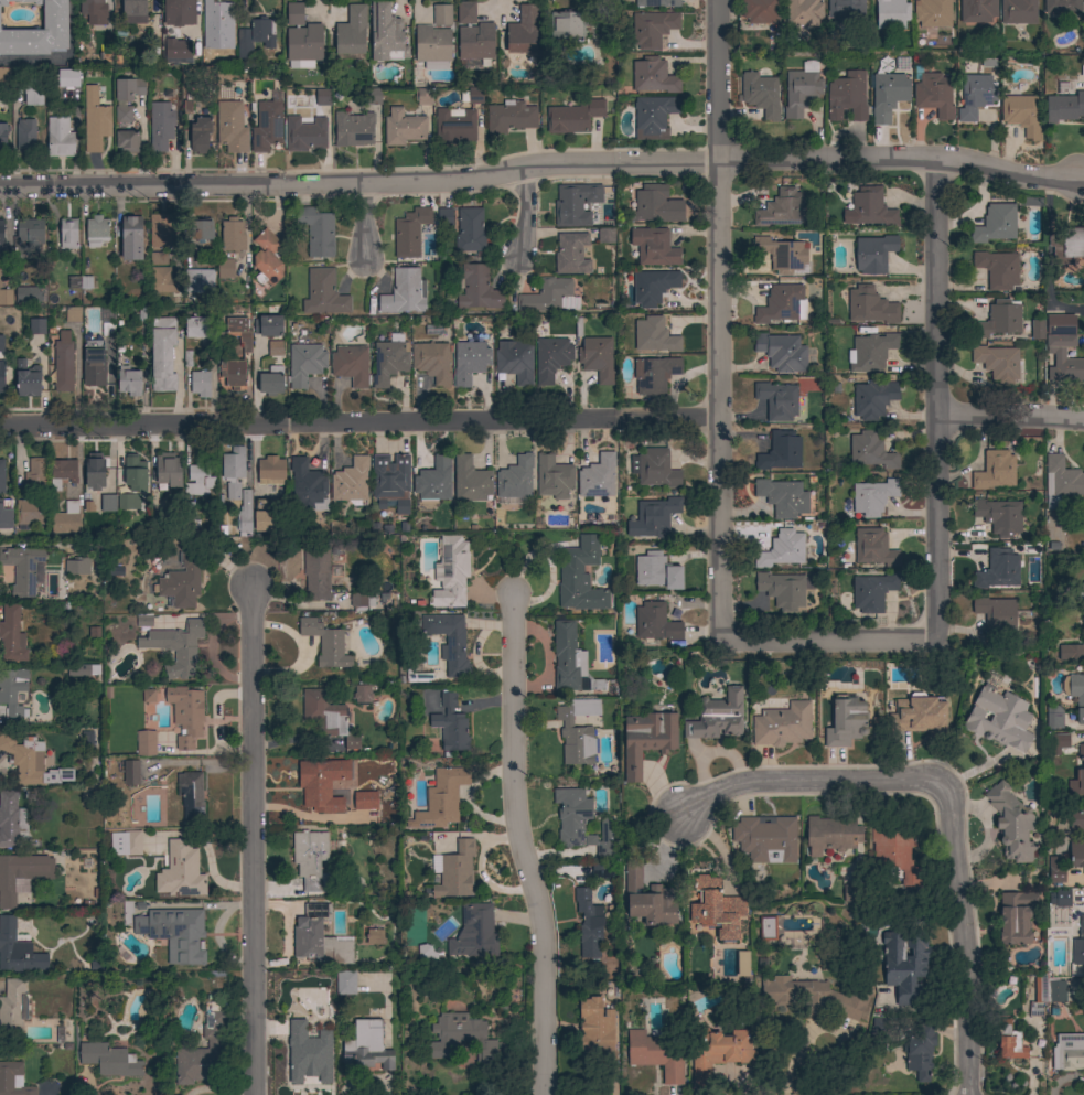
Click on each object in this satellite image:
building: (656, 3)
building: (90, 6)
building: (1061, 6)
building: (133, 10)
building: (760, 11)
building: (846, 11)
building: (977, 11)
building: (1018, 11)
building: (179, 12)
building: (803, 12)
building: (891, 13)
building: (932, 13)
building: (441, 14)
building: (210, 17)
building: (567, 24)
building: (652, 29)
building: (37, 31)
building: (351, 31)
building: (523, 31)
building: (604, 31)
building: (386, 34)
building: (473, 34)
building: (255, 36)
building: (301, 37)
building: (432, 46)
building: (221, 49)
building: (179, 50)
building: (1082, 68)
building: (4, 76)
building: (653, 76)
building: (67, 78)
building: (128, 88)
building: (802, 89)
building: (933, 93)
building: (33, 94)
building: (760, 94)
building: (888, 94)
building: (474, 96)
building: (975, 96)
building: (323, 97)
building: (373, 97)
building: (423, 97)
building: (847, 97)
building: (1064, 107)
building: (122, 114)
building: (1021, 115)
building: (509, 117)
building: (573, 117)
building: (653, 117)
building: (95, 120)
building: (160, 126)
building: (267, 126)
building: (454, 126)
building: (232, 127)
building: (404, 127)
building: (353, 129)
building: (304, 135)
building: (3, 136)
building: (25, 136)
building: (200, 136)
building: (60, 137)
building: (127, 141)
road: (541, 164)
building: (1031, 202)
building: (575, 204)
building: (654, 205)
building: (869, 208)
building: (781, 210)
road: (525, 213)
building: (444, 217)
road: (364, 223)
building: (997, 224)
building: (202, 229)
building: (96, 230)
building: (161, 230)
building: (316, 230)
building: (470, 230)
building: (409, 232)
building: (68, 233)
building: (1, 235)
building: (30, 235)
building: (232, 235)
building: (605, 235)
building: (131, 237)
building: (1067, 245)
building: (653, 246)
building: (571, 254)
building: (873, 254)
building: (782, 255)
building: (158, 258)
building: (267, 259)
building: (225, 268)
building: (997, 269)
building: (0, 270)
building: (1, 280)
building: (163, 280)
building: (198, 281)
building: (79, 282)
building: (652, 286)
building: (477, 288)
building: (404, 292)
building: (323, 293)
building: (30, 294)
building: (549, 297)
building: (6, 298)
building: (780, 303)
building: (870, 305)
building: (73, 314)
building: (6, 315)
building: (1000, 319)
road: (718, 321)
building: (1060, 324)
building: (267, 325)
building: (36, 326)
building: (198, 328)
building: (108, 330)
building: (1037, 330)
building: (239, 332)
building: (654, 335)
building: (1, 344)
building: (275, 348)
building: (782, 352)
building: (870, 352)
building: (162, 353)
building: (550, 358)
building: (597, 358)
building: (1063, 359)
building: (515, 361)
building: (388, 362)
building: (431, 362)
building: (469, 362)
building: (63, 363)
building: (94, 363)
building: (997, 363)
building: (304, 364)
building: (351, 365)
building: (233, 373)
building: (654, 374)
building: (1, 376)
building: (26, 379)
building: (271, 380)
building: (128, 382)
building: (200, 384)
building: (872, 398)
building: (776, 400)
road: (935, 400)
road: (1010, 418)
road: (358, 422)
building: (780, 451)
building: (870, 451)
building: (653, 468)
building: (995, 470)
building: (94, 471)
building: (168, 471)
building: (233, 471)
building: (270, 471)
building: (62, 472)
building: (135, 474)
building: (554, 476)
building: (597, 476)
building: (1, 477)
building: (515, 477)
building: (35, 479)
building: (198, 480)
building: (433, 480)
building: (470, 480)
building: (390, 481)
building: (1061, 481)
building: (351, 482)
building: (307, 485)
building: (872, 496)
building: (782, 497)
building: (128, 502)
building: (108, 504)
building: (29, 513)
building: (6, 514)
building: (244, 514)
building: (998, 516)
building: (264, 517)
building: (653, 517)
building: (185, 518)
building: (66, 519)
building: (873, 547)
building: (781, 549)
building: (77, 566)
building: (22, 569)
building: (998, 569)
building: (656, 571)
building: (450, 572)
building: (316, 573)
building: (580, 577)
building: (182, 580)
building: (782, 590)
building: (871, 592)
building: (1081, 592)
building: (362, 601)
building: (996, 613)
building: (143, 620)
building: (1082, 620)
building: (654, 623)
building: (11, 635)
building: (449, 642)
road: (828, 642)
building: (325, 643)
building: (175, 647)
building: (1070, 653)
building: (570, 661)
building: (82, 670)
building: (418, 672)
building: (13, 694)
building: (1075, 694)
building: (362, 695)
building: (148, 696)
building: (185, 715)
building: (920, 715)
building: (1053, 716)
building: (717, 717)
building: (329, 718)
building: (999, 719)
building: (845, 721)
building: (450, 724)
building: (782, 724)
building: (577, 731)
building: (646, 740)
building: (146, 743)
building: (1058, 743)
building: (31, 762)
building: (130, 772)
building: (1077, 775)
building: (321, 783)
building: (190, 797)
building: (441, 798)
building: (364, 799)
road: (951, 803)
building: (571, 815)
building: (10, 819)
building: (1011, 824)
building: (831, 835)
building: (765, 838)
road: (251, 840)
building: (603, 840)
building: (126, 844)
road: (523, 845)
building: (894, 850)
building: (1076, 855)
building: (311, 860)
building: (181, 870)
building: (602, 870)
building: (1055, 870)
building: (455, 871)
building: (12, 880)
building: (855, 893)
building: (1062, 899)
building: (647, 900)
building: (717, 909)
building: (127, 913)
building: (1015, 917)
building: (588, 924)
building: (766, 927)
building: (174, 933)
building: (475, 933)
building: (376, 937)
building: (319, 938)
building: (1078, 946)
building: (18, 951)
building: (426, 953)
building: (742, 964)
building: (904, 964)
building: (345, 983)
building: (1045, 992)
building: (814, 997)
building: (12, 1011)
building: (878, 1024)
building: (595, 1033)
building: (460, 1038)
building: (1009, 1042)
building: (367, 1046)
building: (920, 1051)
building: (203, 1052)
building: (1070, 1052)
building: (717, 1053)
building: (656, 1054)
building: (308, 1058)
building: (109, 1060)
building: (12, 1080)

